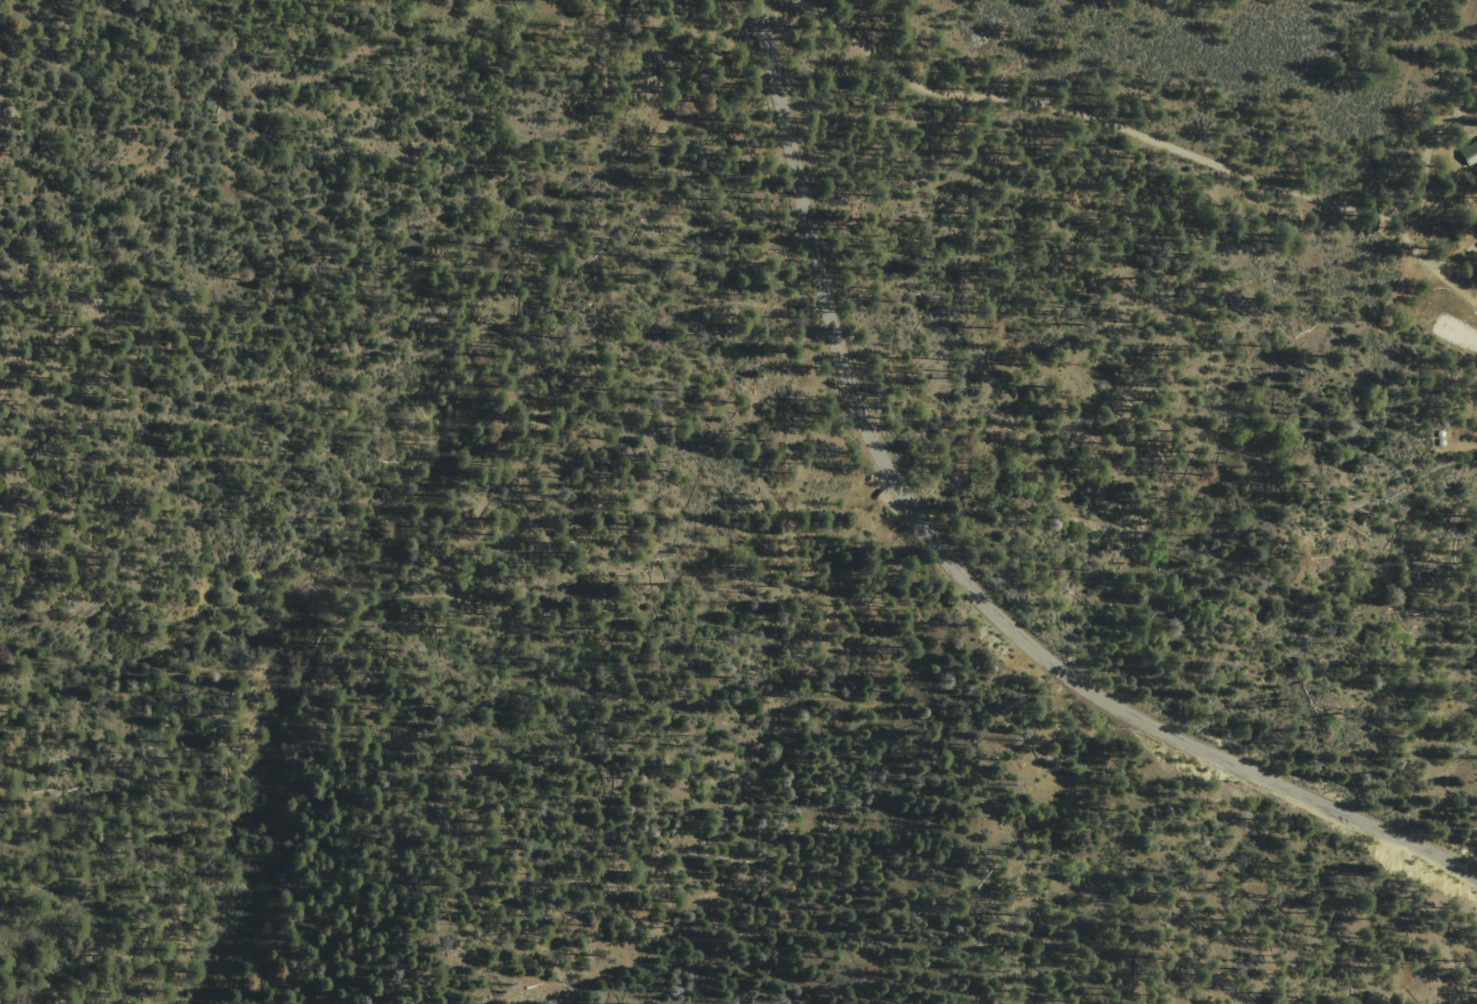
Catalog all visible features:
road: (1452, 115)
road: (1142, 138)
building: (1471, 153)
road: (789, 277)
road: (957, 571)
road: (343, 617)

